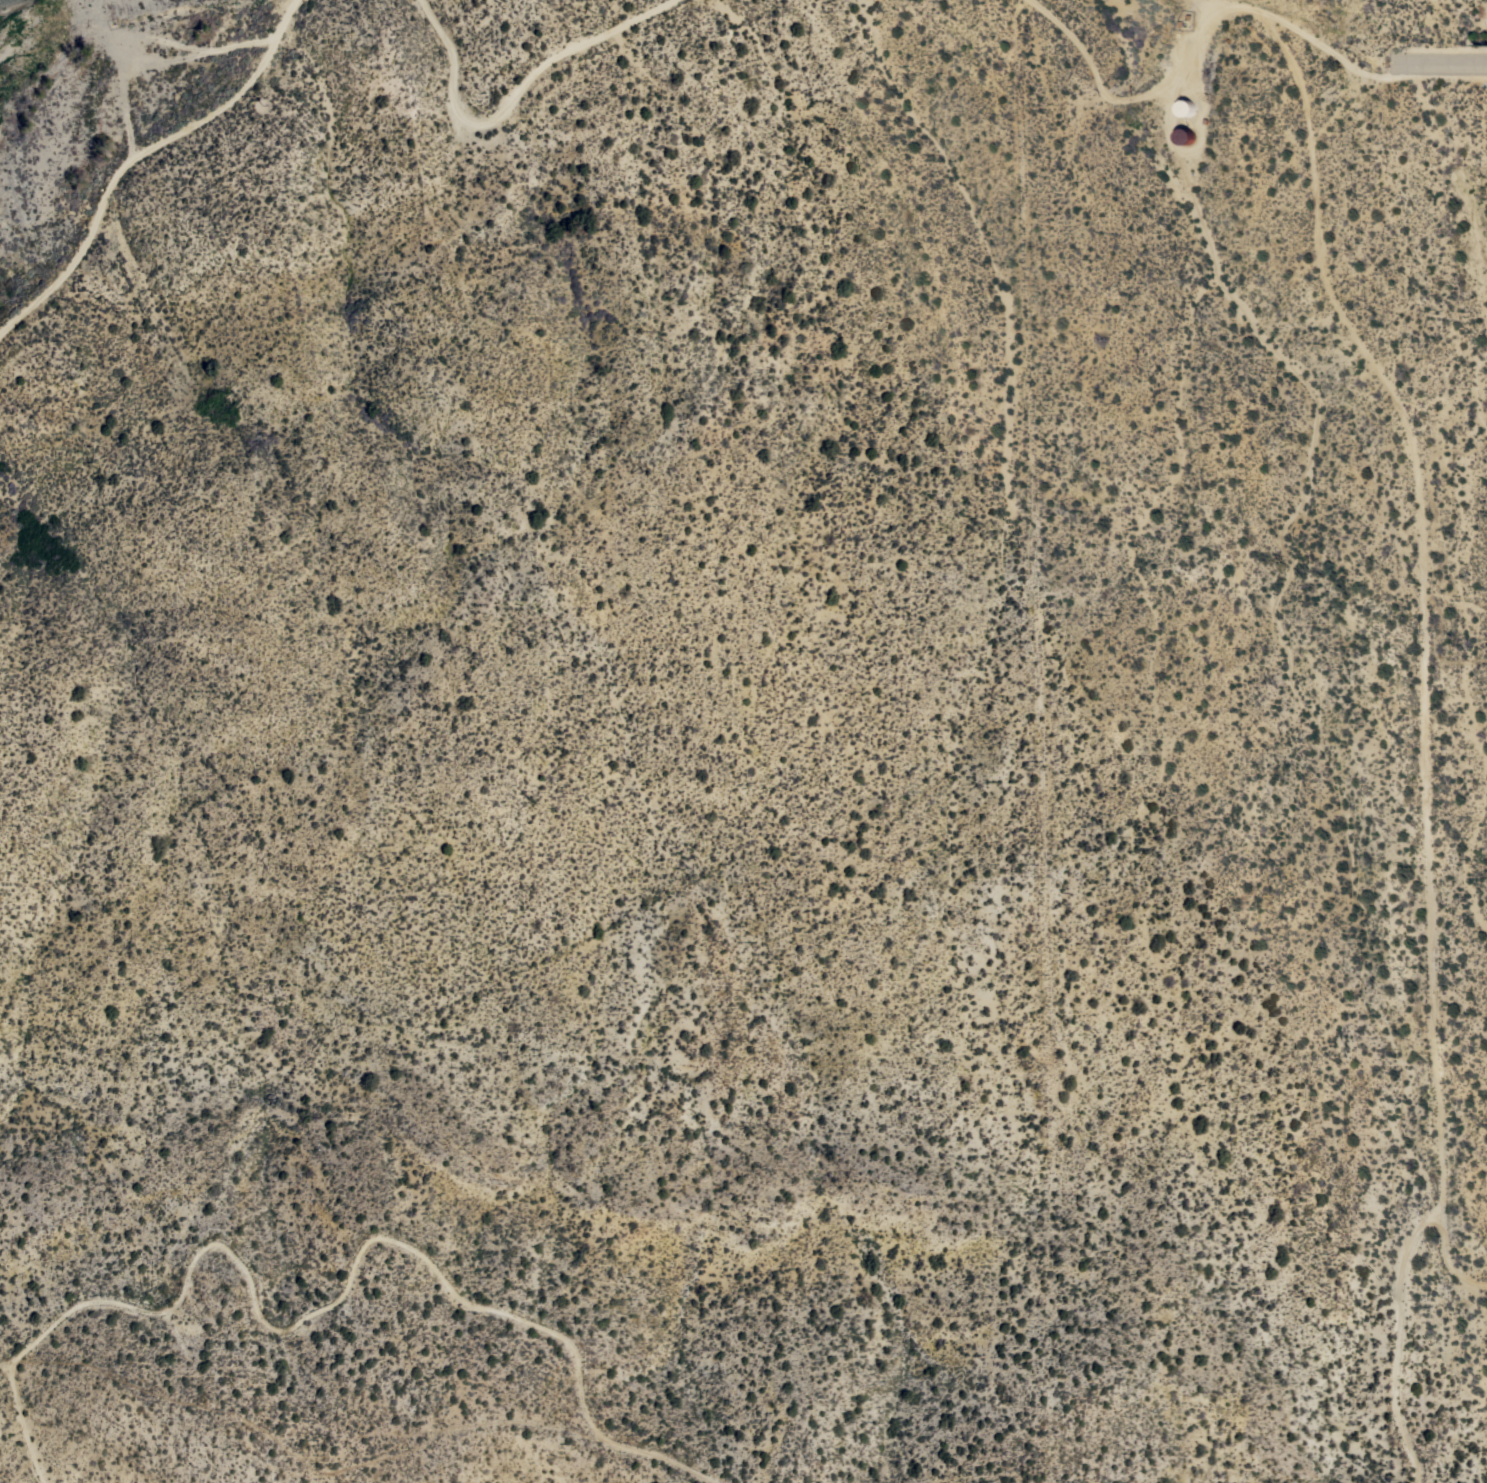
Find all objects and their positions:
road: (1196, 42)
road: (1443, 64)
building: (1187, 107)
building: (1185, 135)
road: (141, 156)
road: (1432, 736)
road: (1454, 1261)
road: (356, 1279)
road: (29, 1425)

